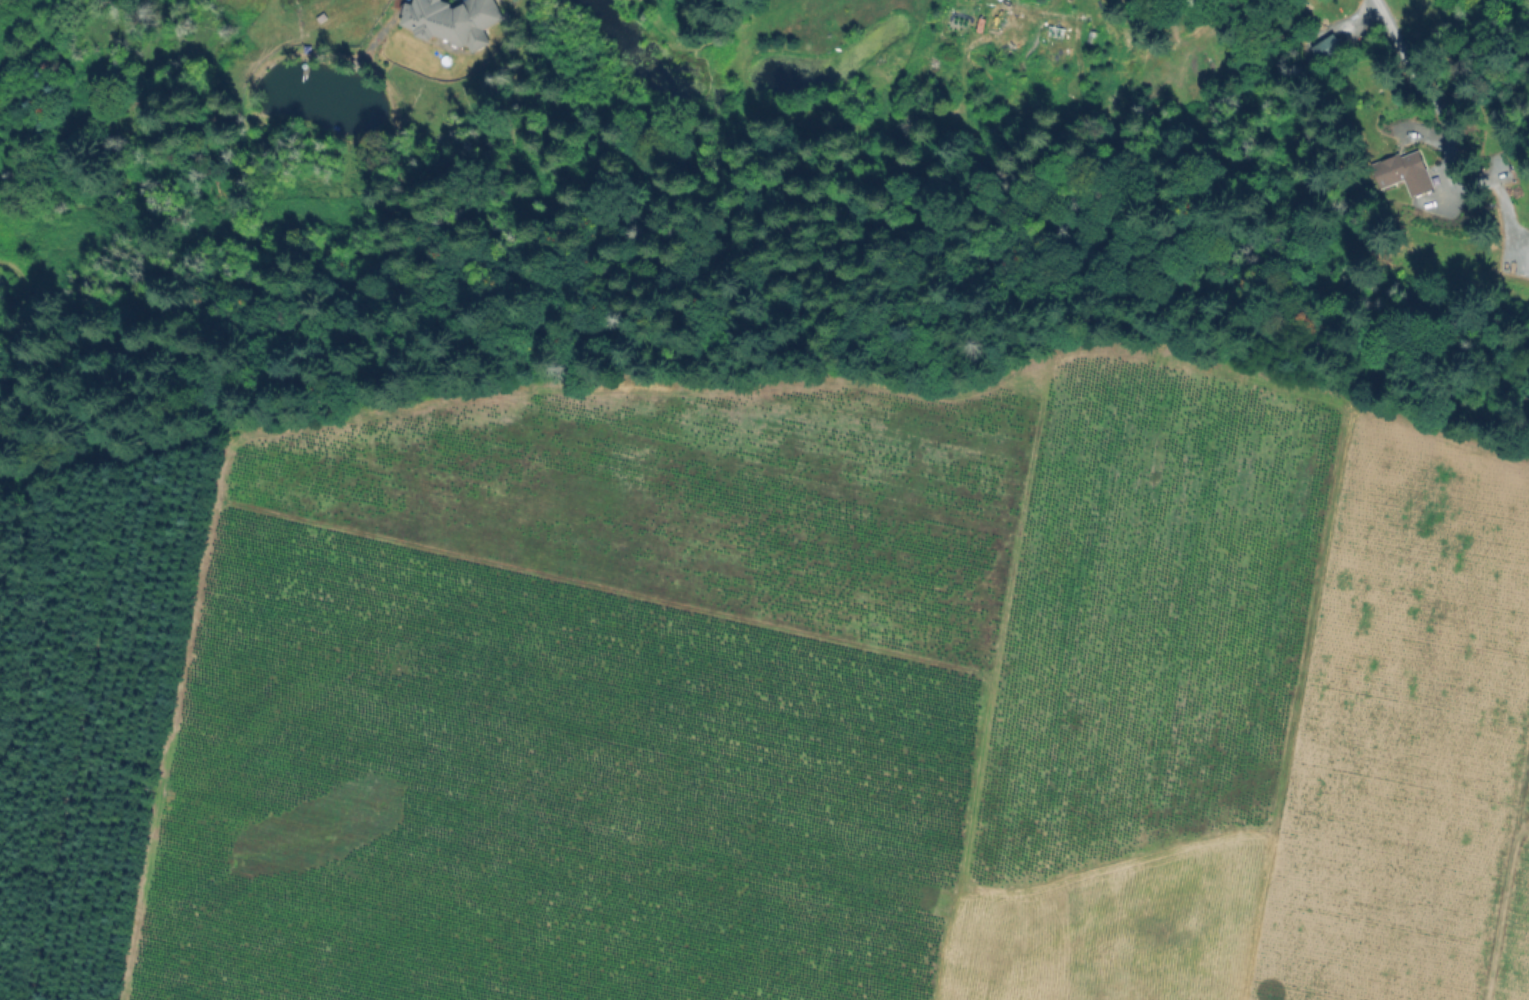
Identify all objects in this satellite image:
building: (456, 16)
building: (1327, 50)
road: (1397, 63)
building: (1405, 172)
road: (1491, 904)

